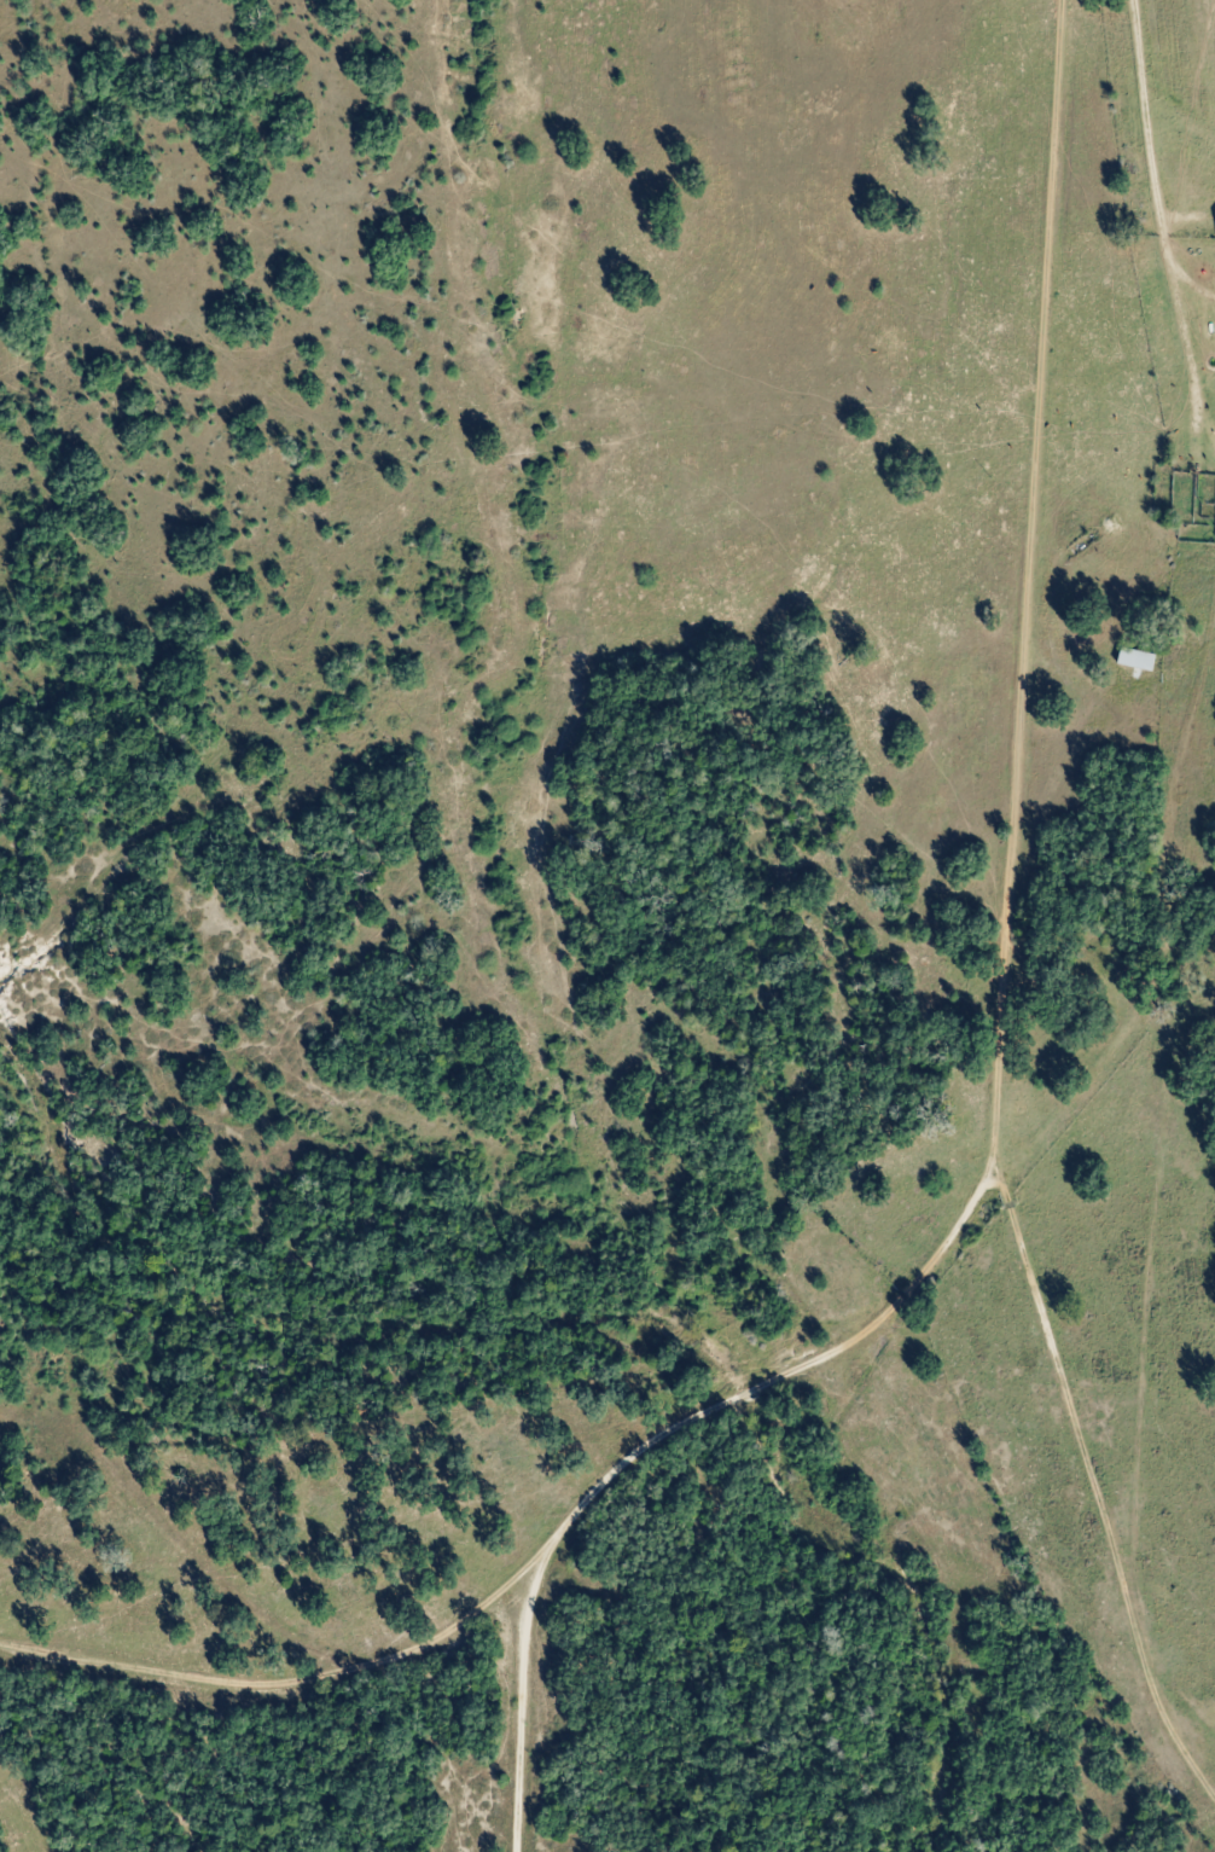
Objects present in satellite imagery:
building: (1136, 660)

